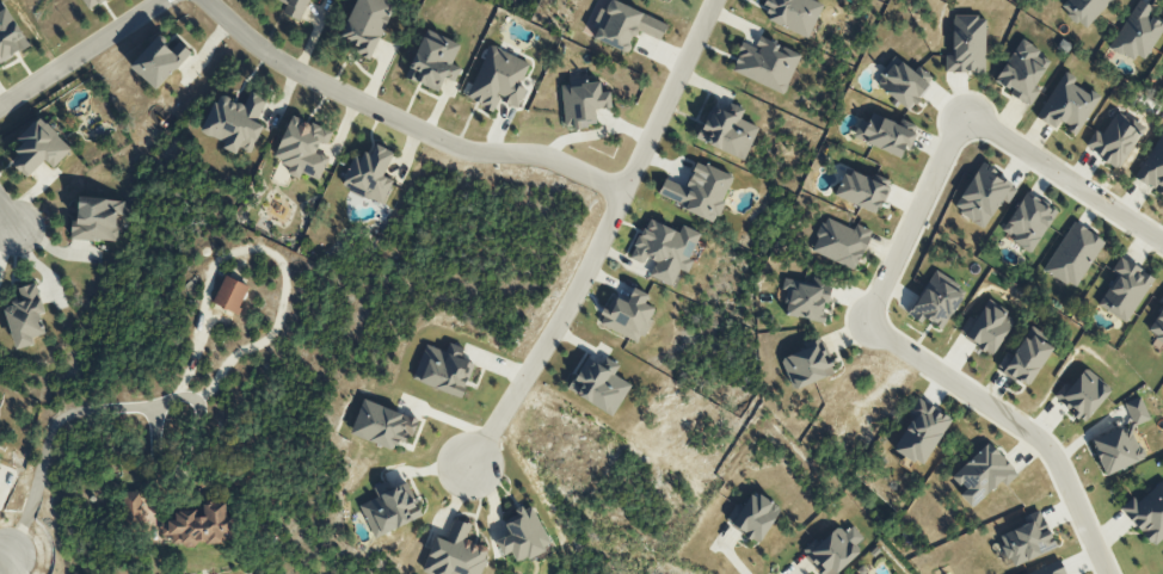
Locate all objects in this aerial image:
building: (667, 0)
building: (92, 2)
building: (1083, 10)
building: (794, 14)
building: (365, 24)
building: (624, 25)
building: (1136, 33)
building: (10, 35)
building: (966, 45)
road: (80, 53)
building: (159, 61)
building: (433, 62)
building: (765, 63)
building: (1022, 72)
building: (498, 80)
building: (583, 103)
building: (1066, 105)
building: (234, 122)
road: (405, 123)
building: (727, 131)
building: (884, 135)
building: (1114, 140)
building: (39, 148)
building: (302, 148)
building: (369, 174)
road: (1065, 181)
building: (699, 191)
building: (860, 191)
building: (983, 196)
road: (8, 215)
building: (97, 218)
building: (1028, 222)
road: (916, 223)
road: (605, 240)
building: (841, 242)
building: (665, 249)
building: (1072, 254)
building: (1125, 289)
building: (230, 294)
building: (806, 300)
building: (936, 301)
building: (25, 316)
building: (628, 316)
building: (986, 328)
building: (1024, 360)
building: (806, 365)
building: (442, 371)
building: (599, 385)
building: (1082, 395)
road: (54, 425)
building: (382, 425)
road: (1015, 425)
building: (921, 432)
building: (1121, 440)
building: (983, 474)
building: (134, 507)
building: (389, 508)
building: (1140, 516)
building: (752, 517)
building: (199, 525)
building: (523, 535)
building: (1027, 539)
road: (7, 547)
building: (832, 550)
building: (455, 553)
road: (10, 562)
building: (1050, 569)
building: (864, 573)

